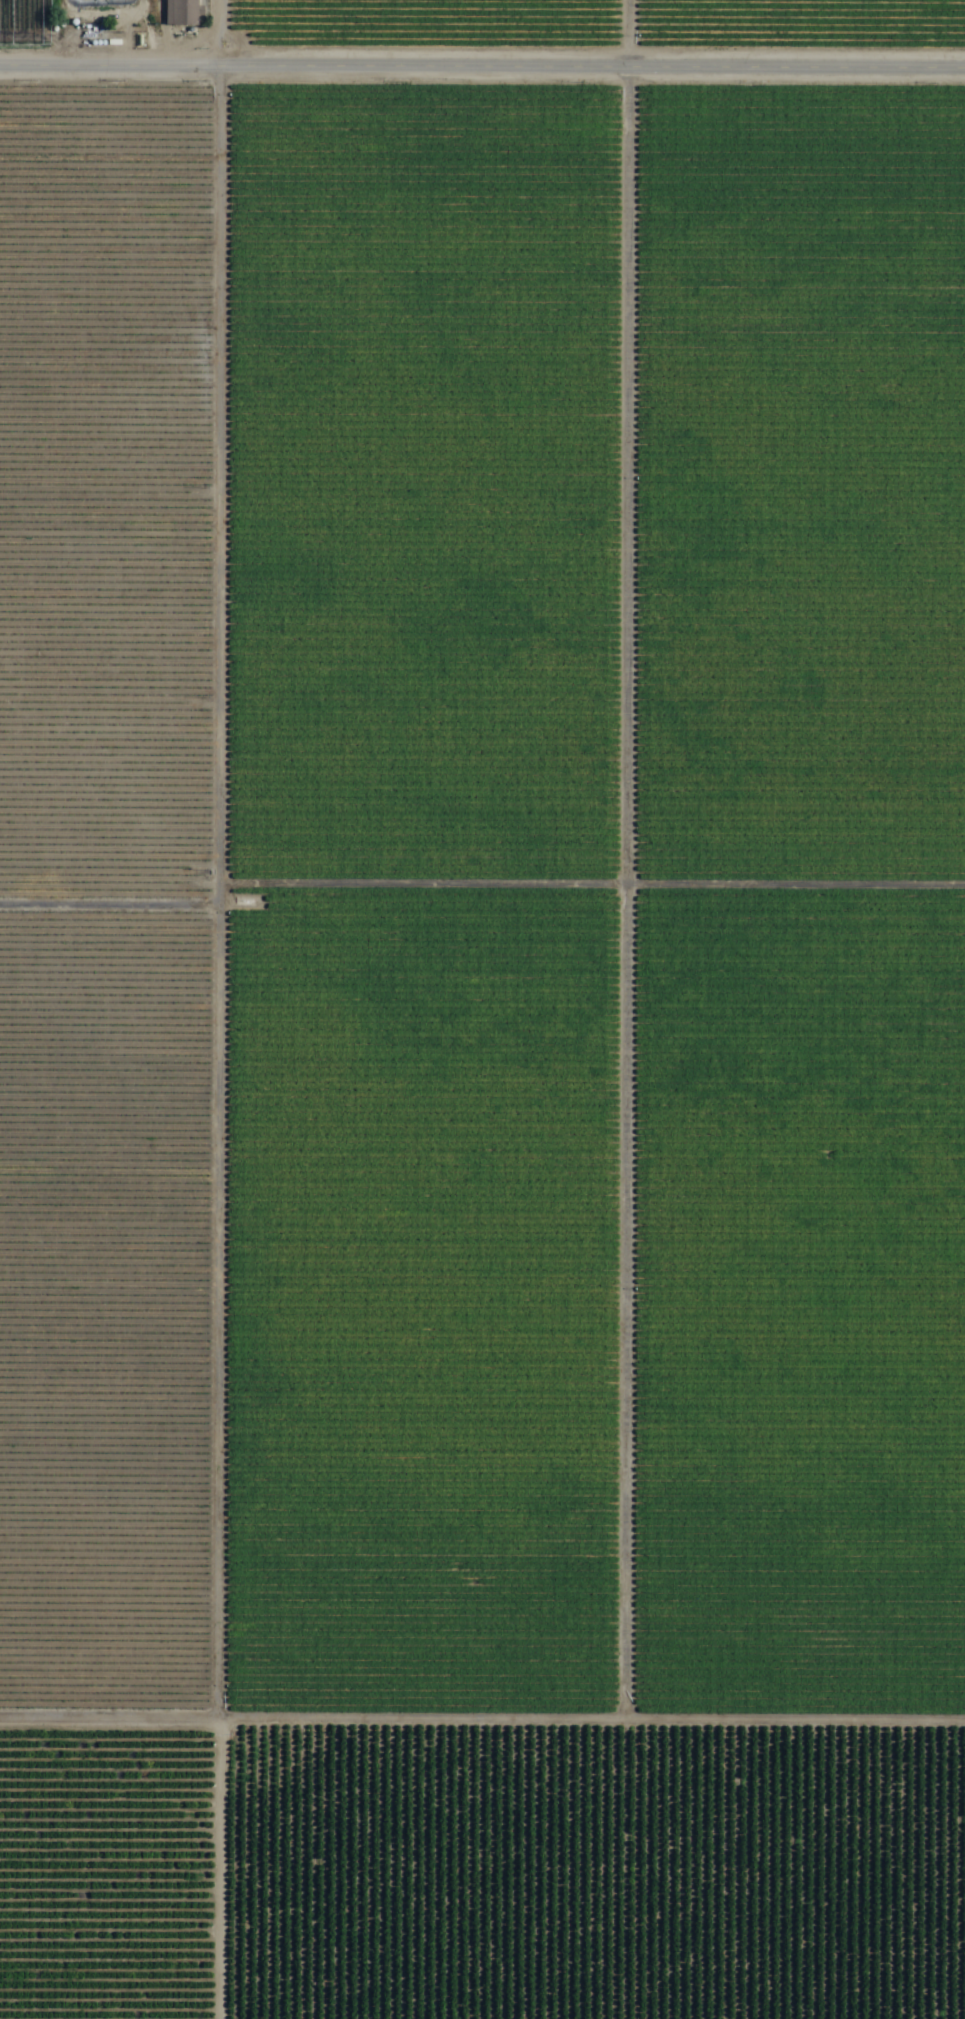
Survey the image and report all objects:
building: (180, 13)
wastewater plant: (83, 19)
road: (482, 71)
road: (225, 1009)
crop: (482, 1009)
road: (482, 1744)

